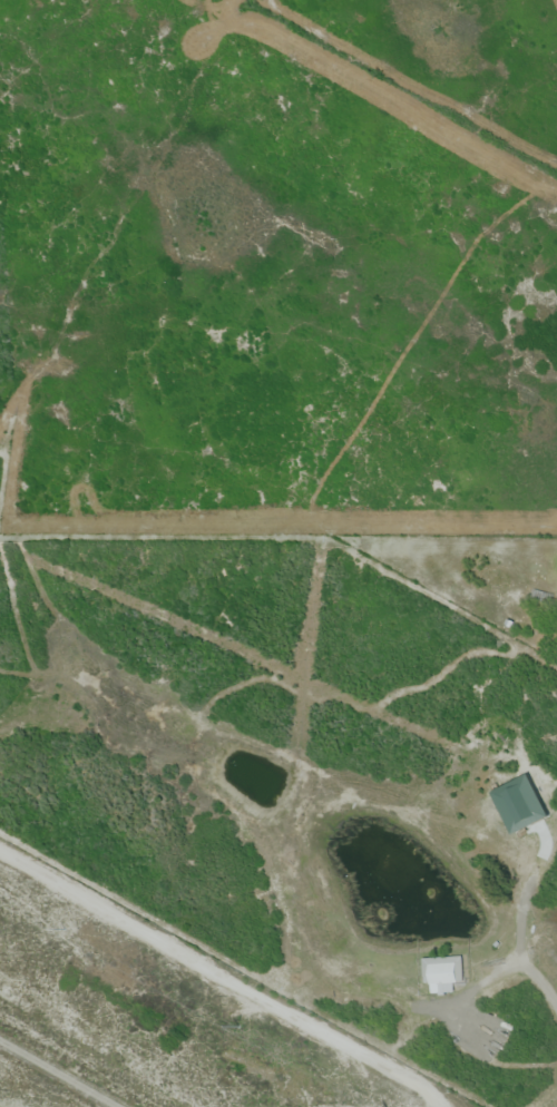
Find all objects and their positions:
road: (521, 934)
road: (222, 974)
building: (444, 974)
power plant: (160, 1017)
road: (56, 1075)

